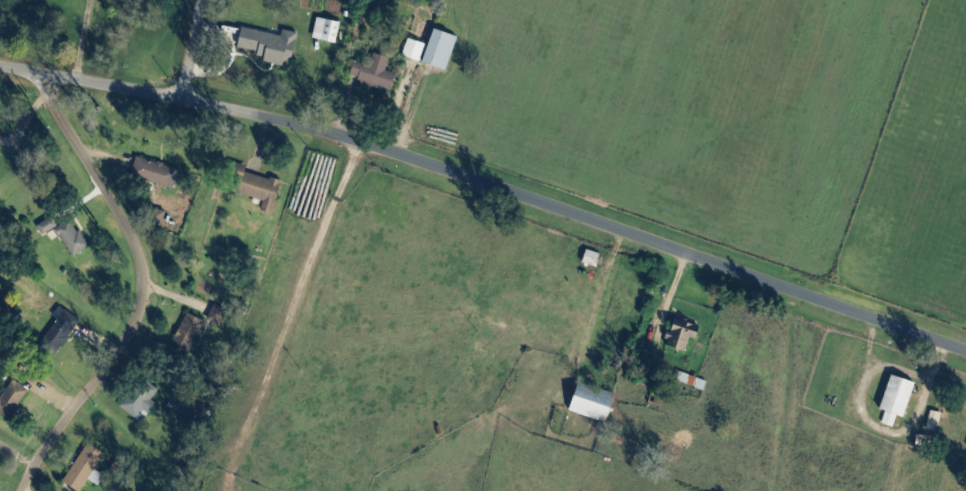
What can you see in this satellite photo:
building: (329, 30)
road: (83, 39)
building: (272, 45)
building: (416, 49)
building: (443, 49)
road: (201, 54)
building: (377, 73)
road: (414, 113)
building: (0, 136)
building: (157, 172)
road: (488, 186)
building: (52, 224)
building: (72, 237)
road: (612, 256)
road: (678, 275)
road: (154, 286)
road: (180, 292)
road: (273, 315)
building: (220, 316)
building: (64, 328)
building: (191, 333)
building: (683, 335)
building: (14, 399)
building: (899, 400)
building: (143, 401)
building: (595, 403)
building: (936, 421)
building: (0, 437)
building: (86, 468)

